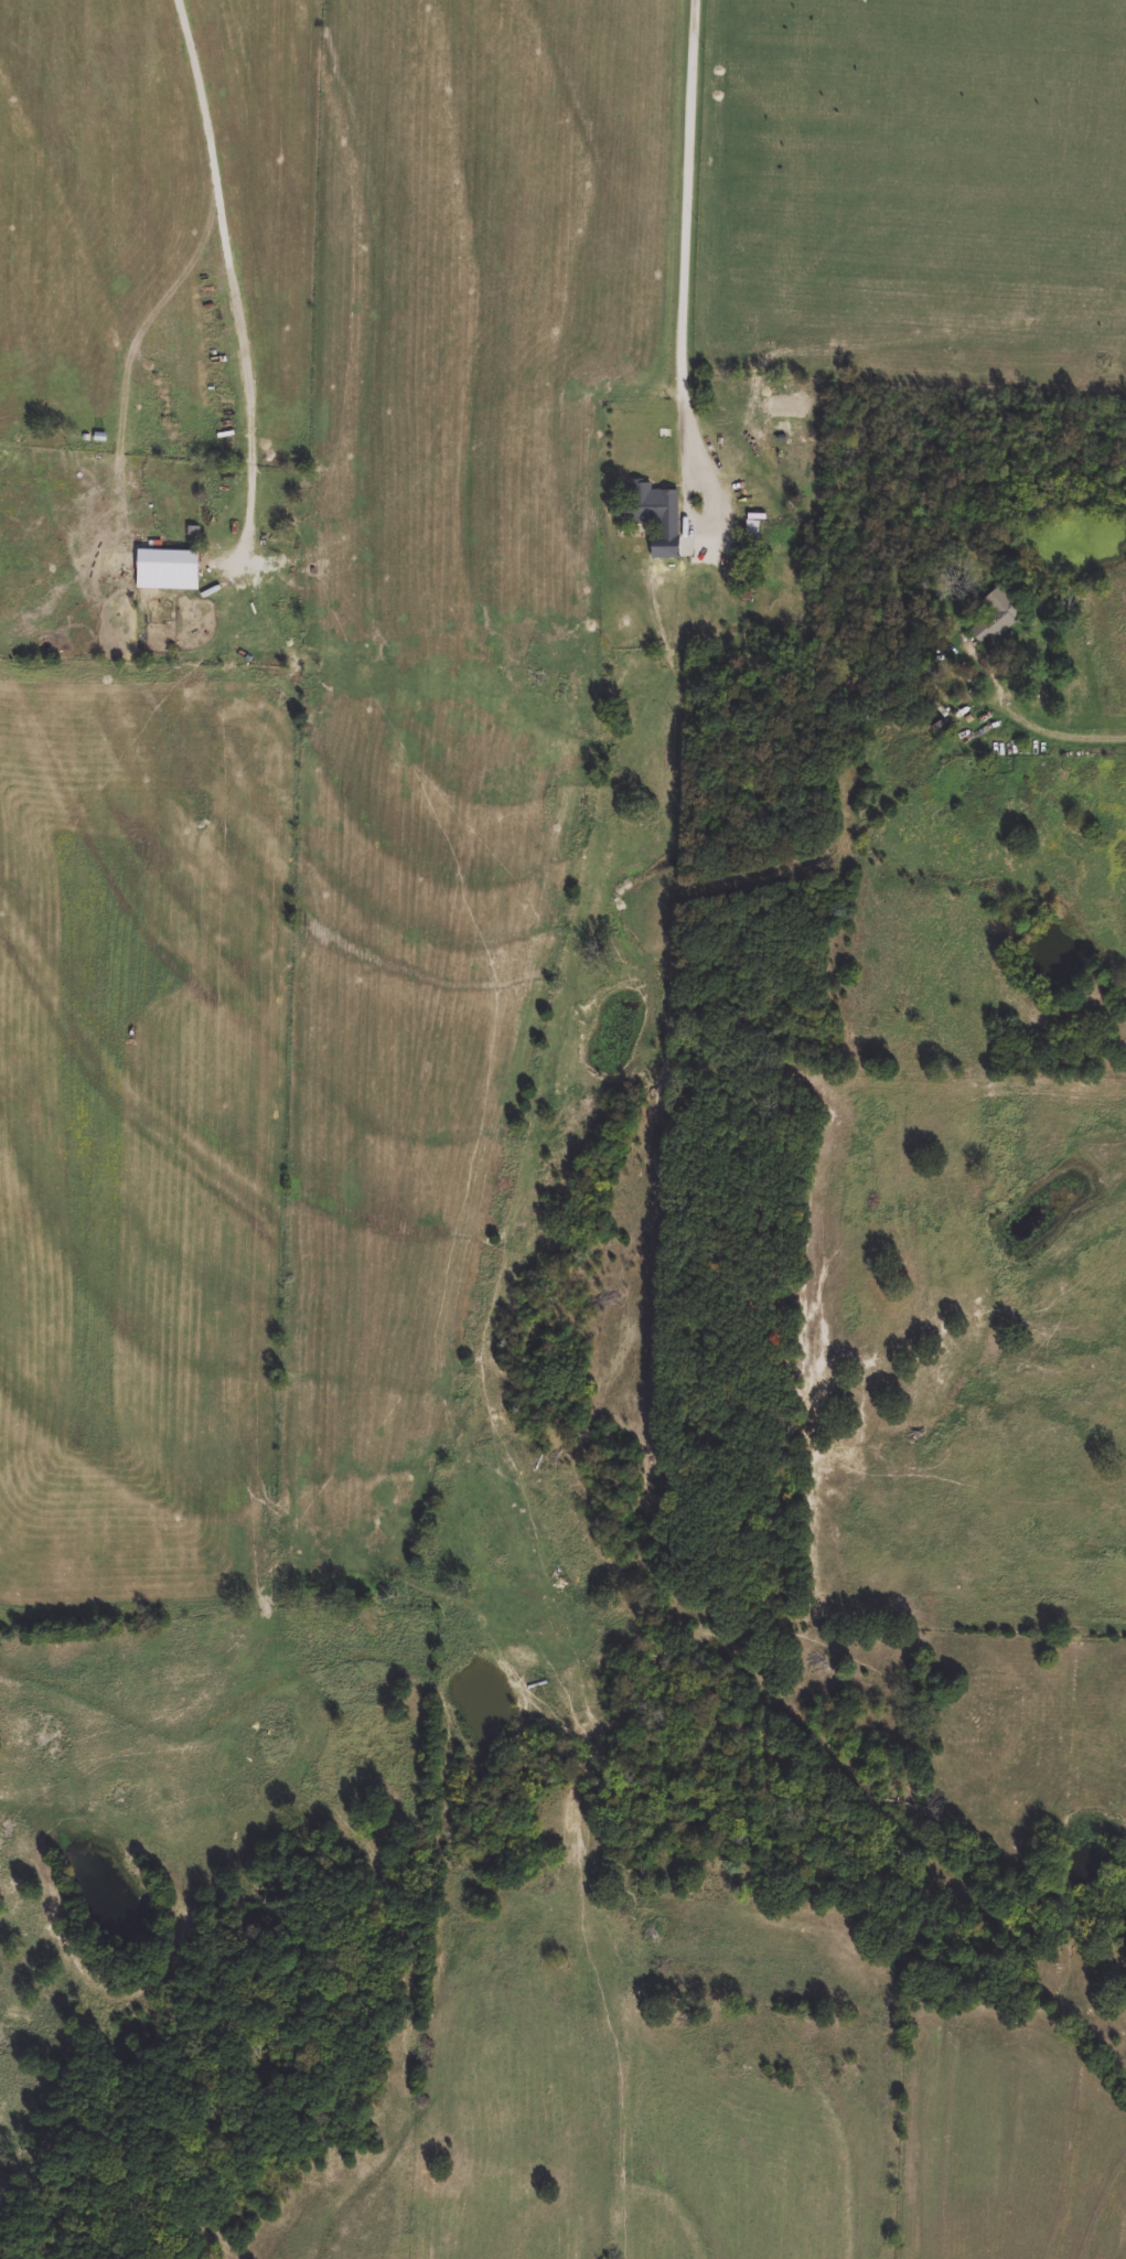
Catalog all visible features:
road: (693, 223)
road: (236, 281)
building: (644, 504)
building: (753, 533)
building: (168, 570)
building: (991, 620)
road: (1055, 726)

